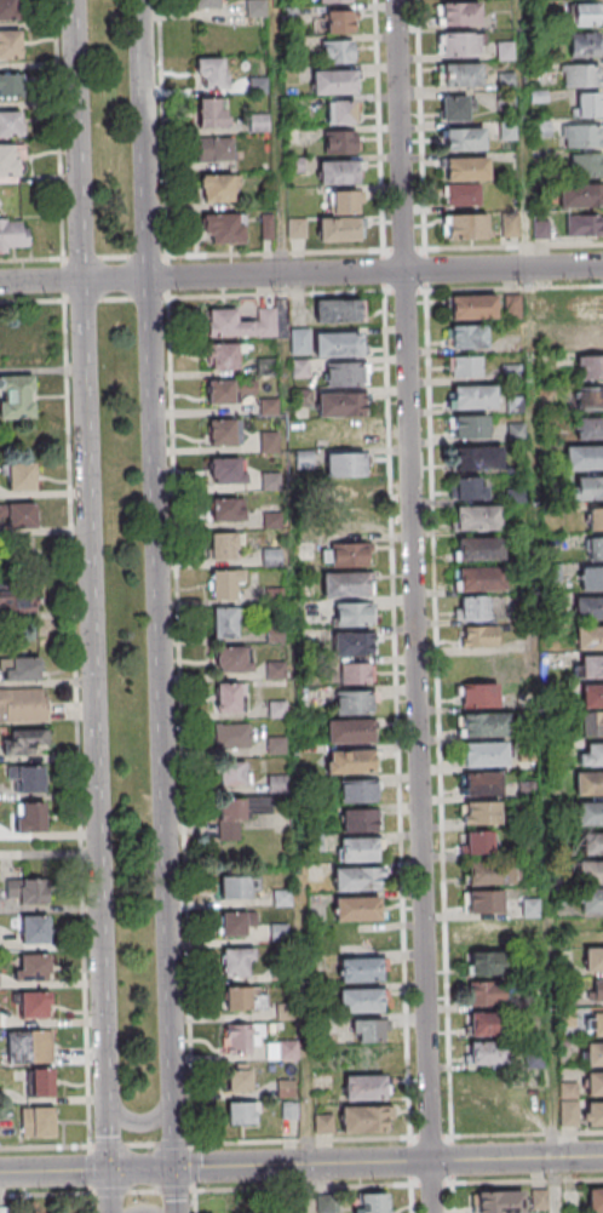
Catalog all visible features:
building: (334, 0)
building: (206, 5)
building: (254, 7)
building: (8, 11)
building: (460, 16)
building: (586, 16)
building: (338, 22)
building: (584, 44)
building: (10, 45)
building: (460, 46)
building: (337, 51)
building: (505, 52)
building: (212, 71)
building: (581, 74)
building: (463, 76)
building: (506, 82)
building: (332, 84)
building: (10, 85)
building: (590, 107)
building: (454, 108)
building: (339, 111)
building: (212, 114)
building: (10, 125)
road: (420, 125)
road: (162, 128)
road: (59, 130)
building: (541, 130)
building: (507, 131)
building: (581, 135)
building: (339, 141)
building: (465, 141)
building: (214, 149)
building: (7, 162)
building: (586, 164)
building: (467, 171)
building: (338, 174)
building: (218, 189)
building: (463, 194)
building: (580, 195)
building: (344, 201)
road: (281, 206)
building: (509, 225)
building: (584, 225)
building: (297, 227)
building: (222, 228)
building: (467, 228)
building: (339, 229)
building: (12, 234)
road: (384, 251)
road: (115, 259)
road: (31, 261)
road: (300, 273)
road: (385, 293)
road: (116, 299)
road: (33, 302)
building: (472, 309)
building: (587, 309)
building: (339, 313)
building: (243, 325)
building: (469, 338)
building: (582, 339)
building: (300, 343)
building: (338, 347)
building: (223, 357)
building: (268, 367)
building: (466, 367)
building: (301, 368)
building: (592, 370)
building: (512, 374)
building: (348, 376)
building: (230, 391)
building: (16, 396)
building: (304, 399)
building: (475, 400)
building: (590, 401)
building: (341, 406)
building: (515, 406)
building: (270, 408)
building: (303, 429)
building: (469, 429)
building: (590, 430)
building: (223, 434)
building: (344, 434)
building: (517, 434)
building: (270, 444)
building: (305, 460)
building: (477, 460)
building: (584, 460)
building: (346, 467)
building: (228, 474)
building: (22, 479)
building: (271, 484)
building: (587, 487)
building: (467, 488)
building: (348, 497)
building: (228, 513)
building: (22, 519)
building: (478, 519)
building: (596, 521)
building: (274, 522)
building: (224, 548)
building: (479, 551)
building: (596, 551)
building: (19, 553)
building: (272, 557)
building: (351, 557)
road: (394, 568)
building: (553, 573)
building: (481, 580)
building: (592, 580)
building: (226, 585)
building: (346, 587)
building: (16, 596)
building: (276, 597)
road: (93, 606)
road: (156, 606)
road: (417, 606)
road: (538, 606)
building: (471, 607)
building: (590, 611)
building: (356, 617)
building: (226, 625)
building: (276, 636)
building: (478, 636)
building: (590, 641)
building: (354, 647)
building: (232, 663)
building: (19, 669)
building: (592, 670)
building: (277, 673)
building: (354, 674)
building: (479, 694)
building: (592, 699)
building: (229, 700)
building: (24, 706)
building: (356, 706)
building: (278, 710)
building: (527, 721)
building: (593, 726)
building: (486, 727)
building: (350, 734)
building: (234, 738)
building: (25, 739)
building: (277, 746)
road: (183, 756)
building: (486, 757)
building: (593, 757)
building: (352, 765)
road: (441, 768)
building: (231, 774)
building: (31, 783)
building: (280, 785)
building: (484, 785)
building: (588, 786)
building: (528, 791)
building: (360, 794)
building: (236, 816)
building: (481, 816)
building: (590, 817)
building: (31, 819)
building: (529, 820)
building: (362, 824)
building: (561, 842)
building: (315, 843)
building: (478, 846)
building: (593, 847)
building: (360, 852)
building: (492, 875)
building: (591, 875)
building: (357, 882)
building: (25, 889)
building: (241, 889)
building: (564, 897)
building: (283, 899)
building: (592, 903)
building: (486, 905)
building: (532, 909)
building: (358, 911)
building: (239, 926)
building: (35, 932)
building: (281, 933)
building: (493, 936)
building: (595, 962)
building: (237, 965)
building: (493, 966)
building: (35, 971)
building: (362, 972)
road: (303, 978)
building: (0, 985)
building: (595, 989)
building: (486, 992)
building: (243, 999)
building: (362, 1003)
building: (35, 1008)
building: (288, 1013)
building: (596, 1026)
building: (492, 1028)
building: (369, 1030)
building: (240, 1040)
building: (29, 1046)
building: (291, 1052)
building: (490, 1057)
building: (596, 1057)
building: (239, 1077)
building: (41, 1082)
building: (596, 1088)
building: (287, 1089)
building: (366, 1091)
building: (568, 1104)
building: (289, 1109)
building: (241, 1112)
building: (596, 1117)
building: (367, 1122)
building: (39, 1126)
road: (136, 1126)
building: (325, 1126)
road: (421, 1139)
road: (300, 1166)
traffic signals: (176, 1169)
traffic signals: (110, 1172)
road: (435, 1185)
building: (595, 1198)
building: (499, 1201)
building: (373, 1202)
building: (327, 1206)

